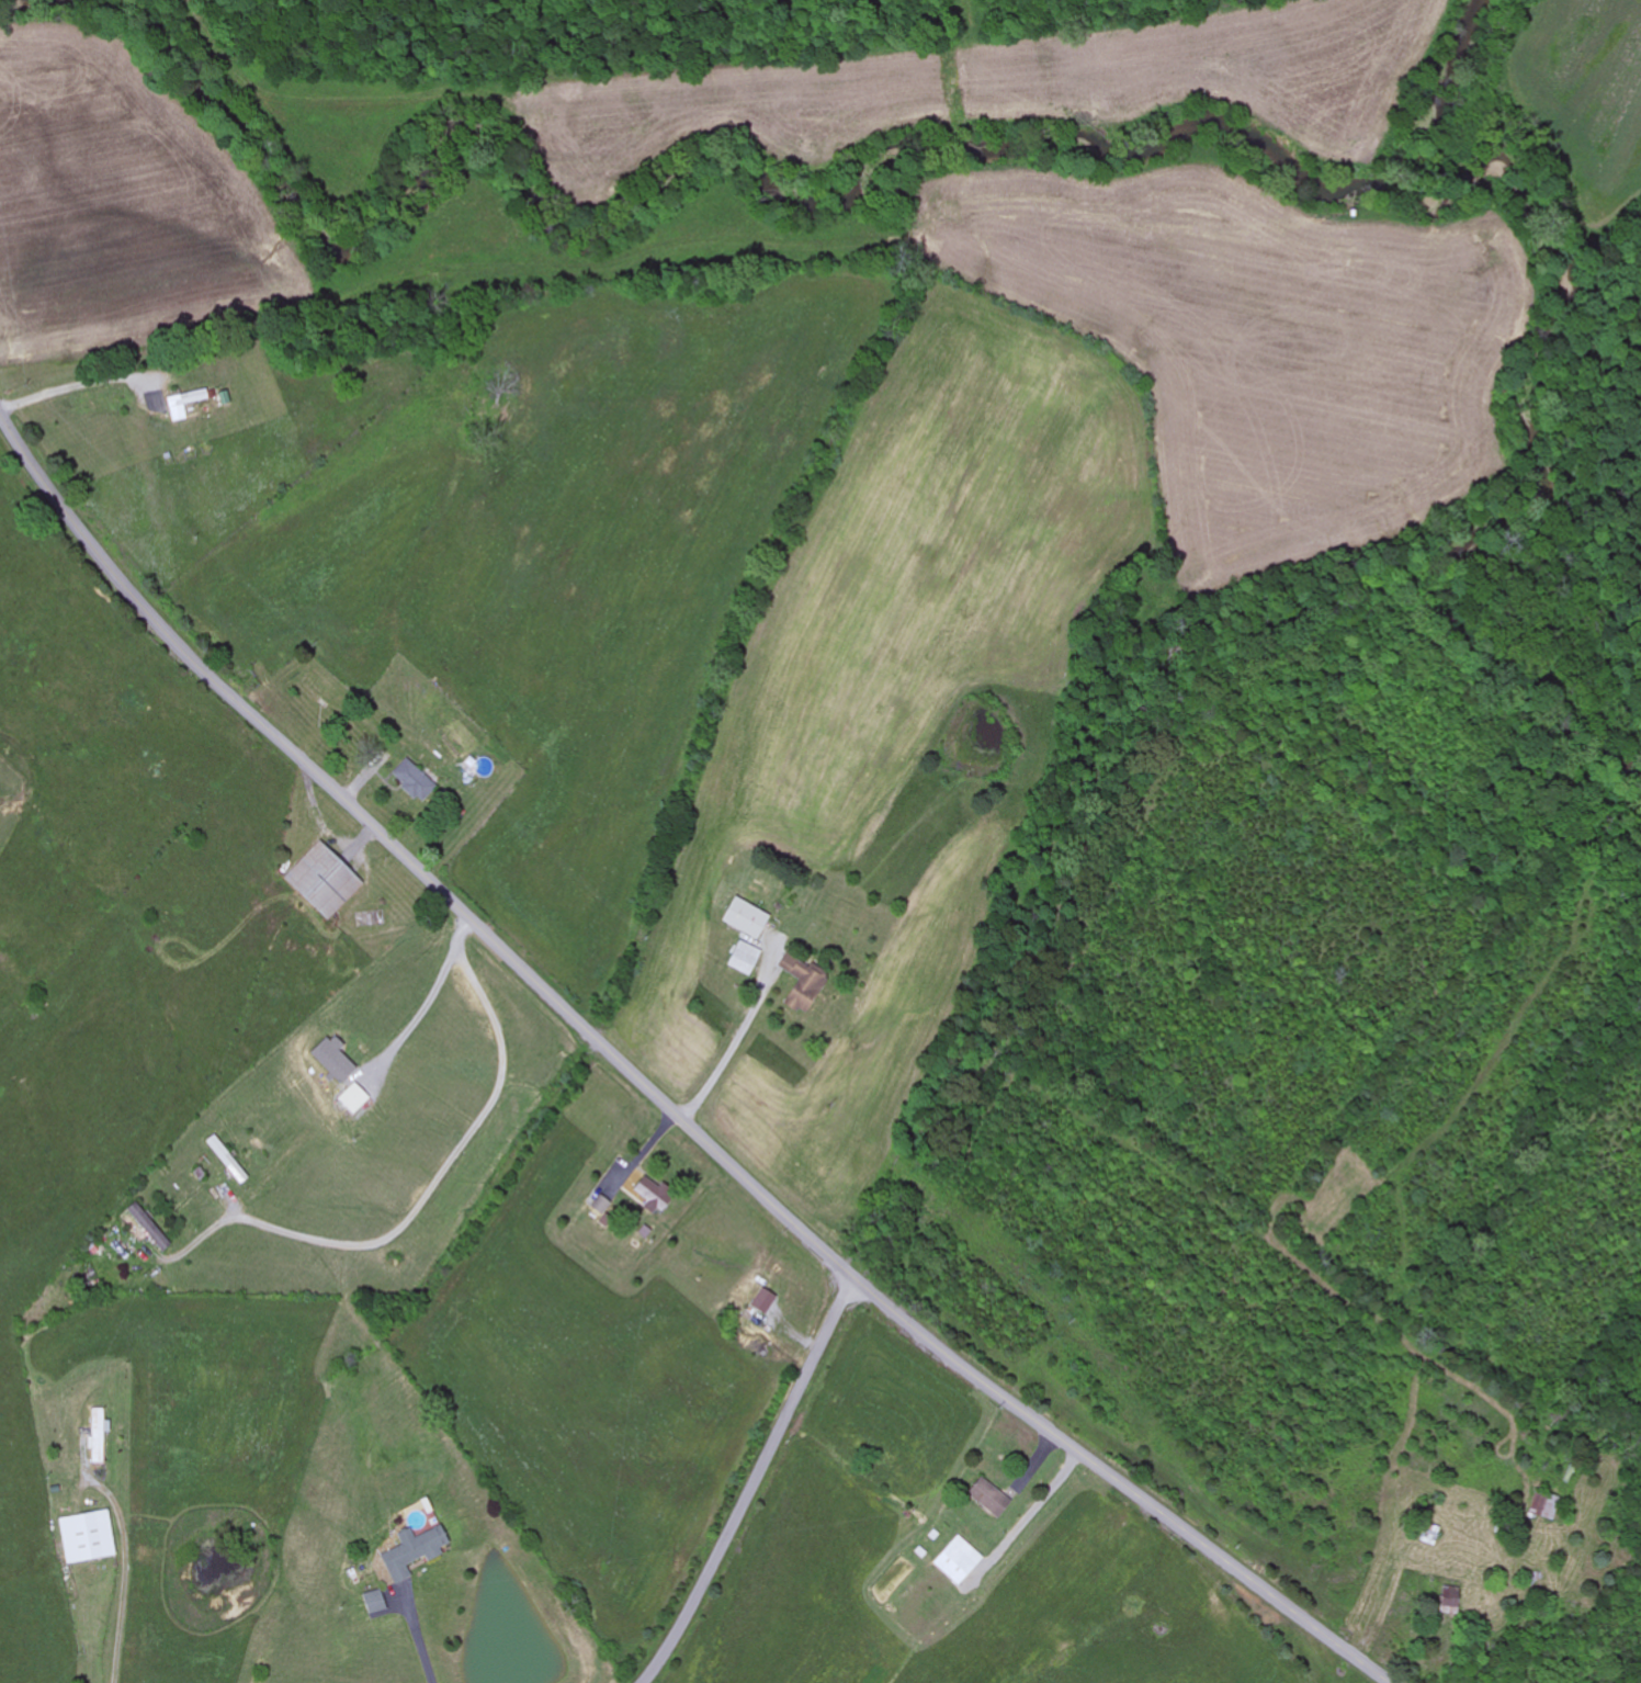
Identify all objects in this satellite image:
building: (185, 405)
building: (412, 782)
building: (321, 883)
building: (745, 919)
building: (745, 960)
building: (800, 985)
building: (332, 1060)
road: (650, 1094)
building: (352, 1100)
building: (227, 1163)
building: (650, 1197)
building: (147, 1228)
building: (762, 1302)
road: (752, 1484)
building: (986, 1499)
building: (1543, 1507)
building: (87, 1538)
building: (412, 1552)
building: (957, 1562)
building: (1446, 1599)
building: (372, 1603)

